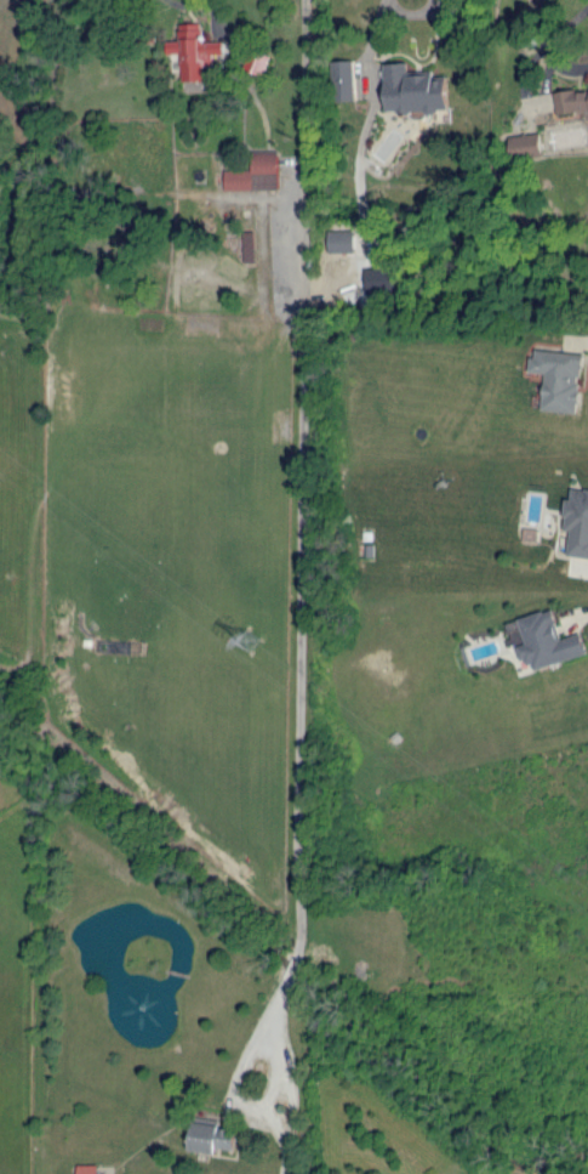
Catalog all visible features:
road: (586, 25)
road: (371, 39)
building: (193, 50)
building: (344, 81)
building: (412, 87)
building: (570, 98)
building: (525, 142)
building: (255, 175)
building: (342, 244)
building: (249, 246)
building: (556, 378)
road: (299, 515)
building: (576, 521)
building: (547, 639)
power tower: (249, 642)
road: (275, 1100)
building: (207, 1133)
building: (87, 1169)

